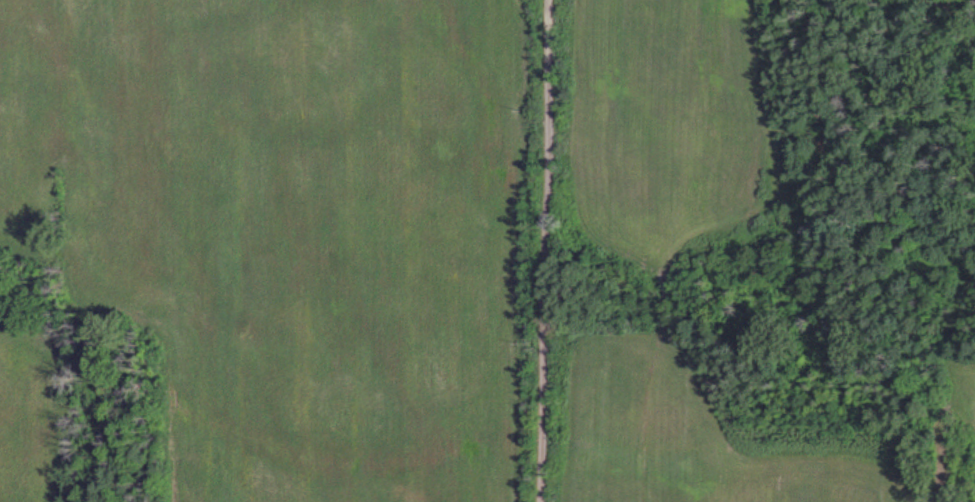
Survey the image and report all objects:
road: (544, 251)

